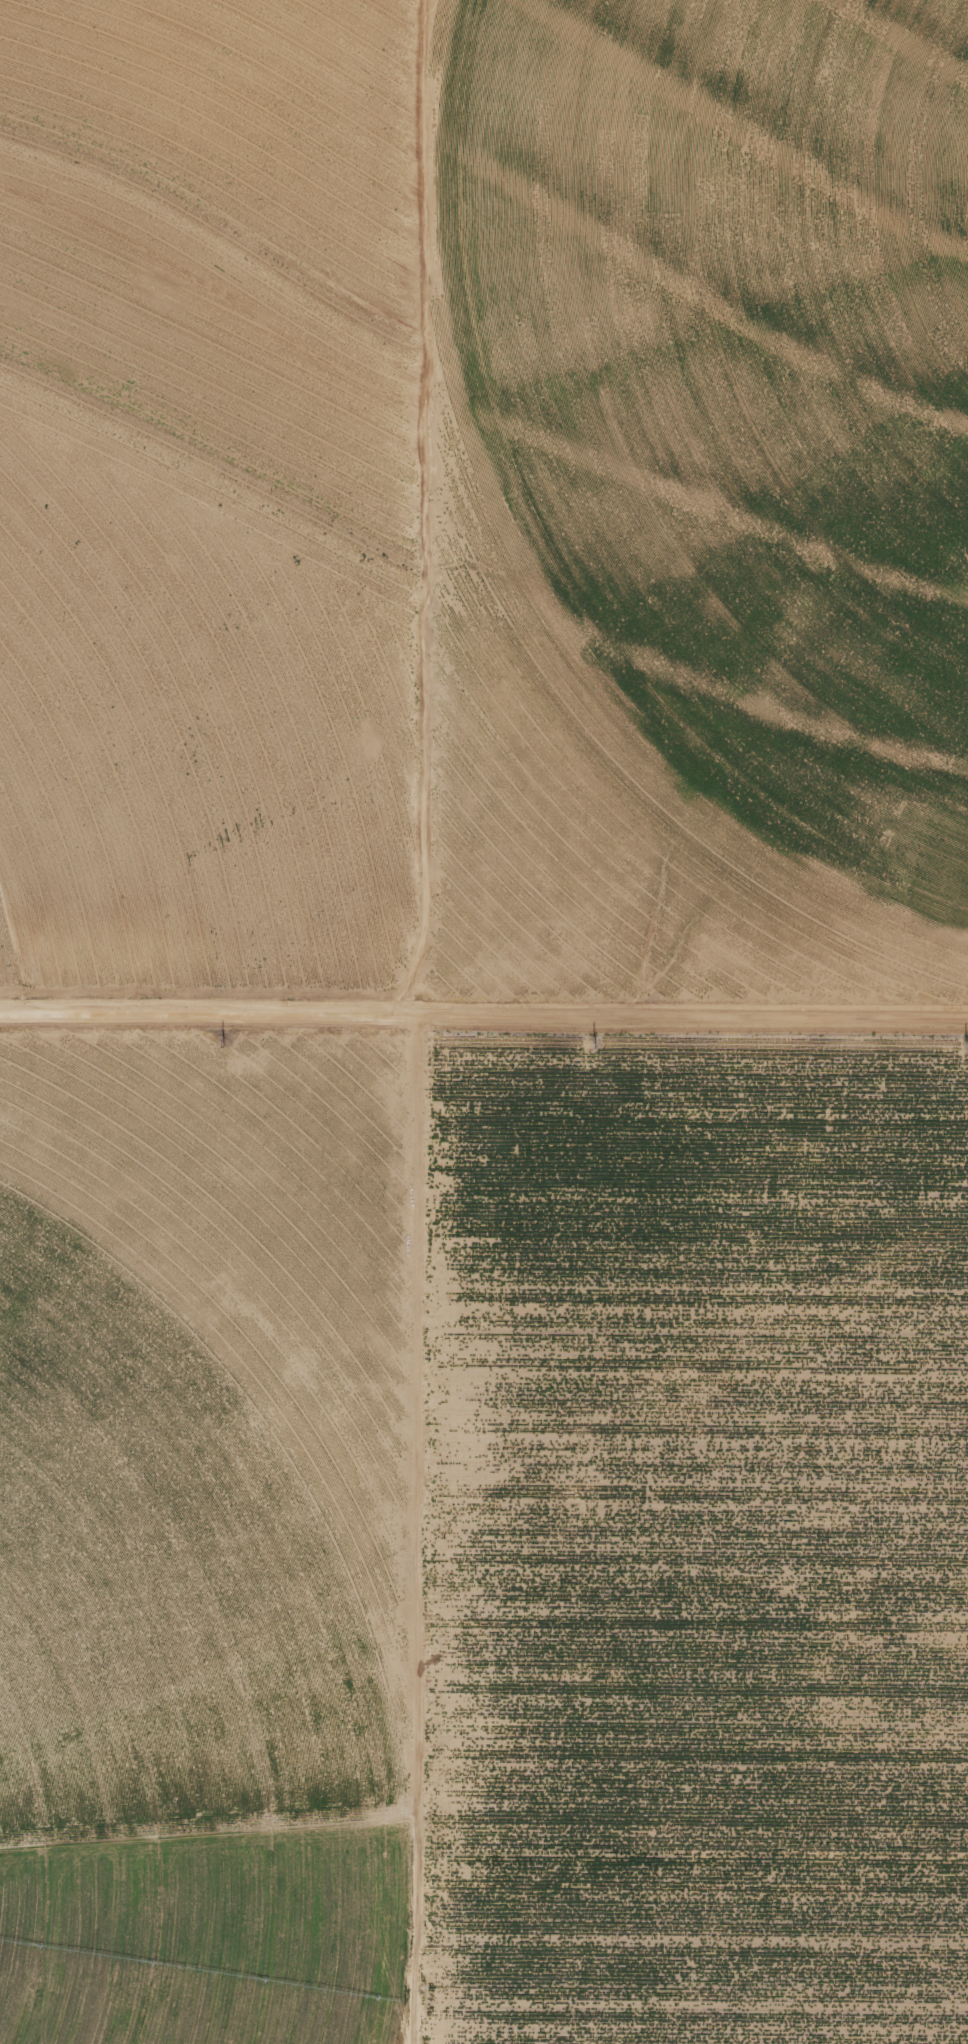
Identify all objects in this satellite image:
road: (390, 512)
road: (483, 1024)
power tower: (216, 1035)
power tower: (961, 1041)
power tower: (589, 1042)

